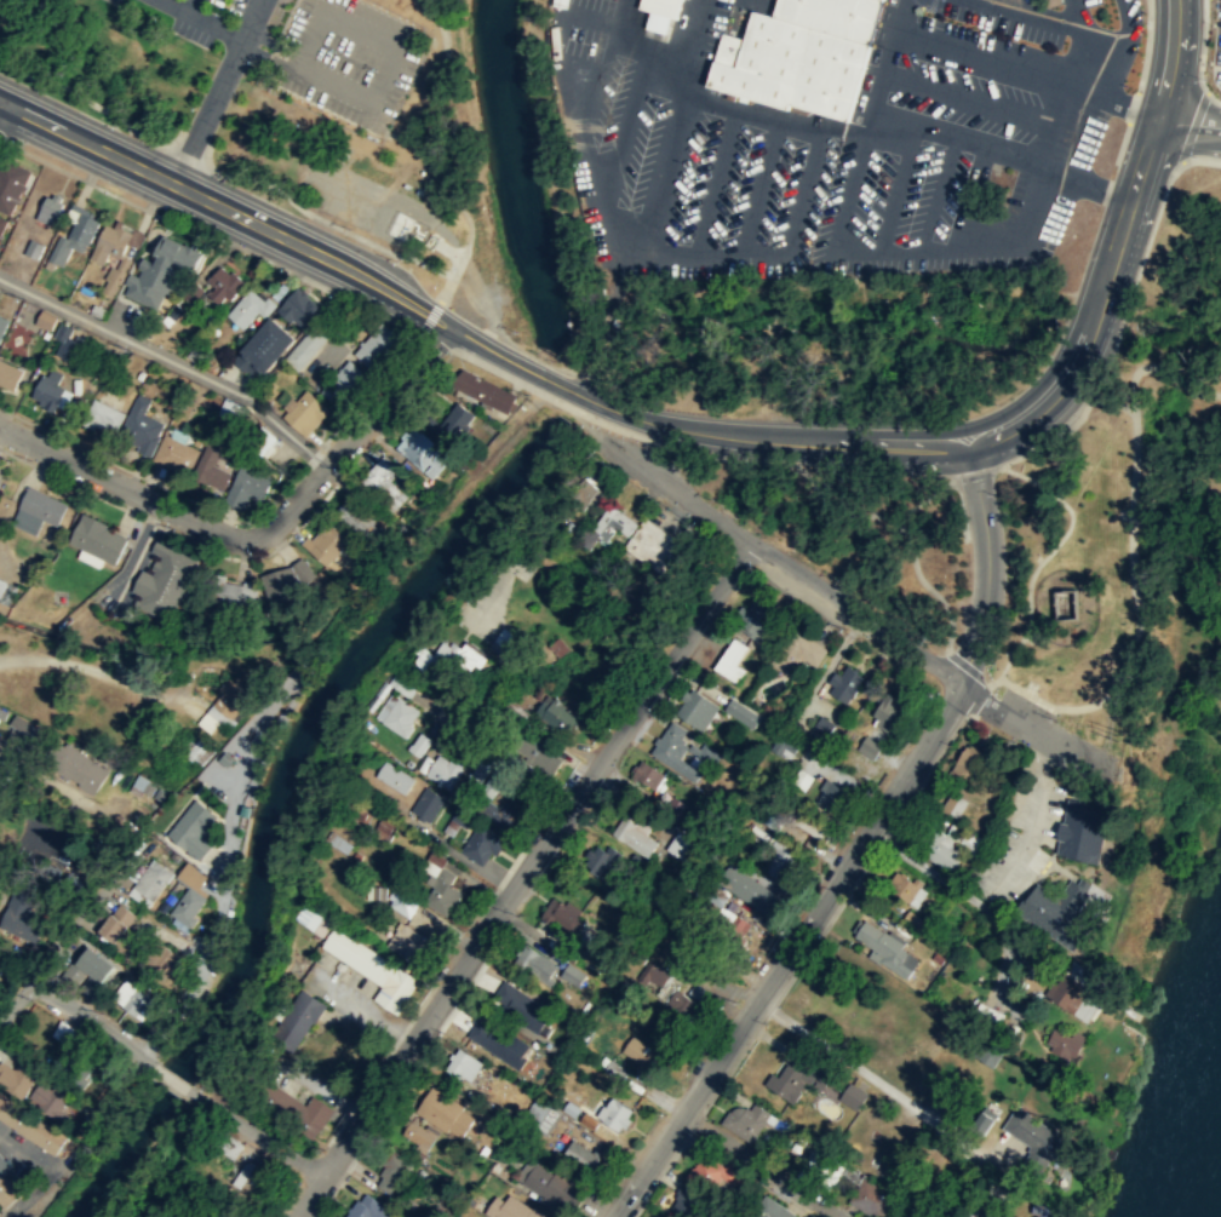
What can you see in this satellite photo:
parking lot: (113, 1)
street lamp: (440, 2)
building: (558, 5)
road: (191, 7)
parking lot: (223, 7)
building: (660, 7)
road: (620, 12)
street lamp: (220, 13)
road: (329, 17)
road: (654, 17)
road: (200, 19)
road: (1055, 21)
road: (1123, 21)
street lamp: (1148, 22)
parking lot: (189, 31)
road: (609, 41)
road: (273, 42)
road: (1145, 45)
road: (1202, 46)
road: (688, 47)
road: (669, 48)
building: (799, 54)
road: (975, 54)
road: (265, 56)
parking lot: (348, 59)
road: (1174, 59)
street lamp: (253, 61)
road: (881, 65)
road: (1108, 68)
street lamp: (453, 70)
street lamp: (1204, 79)
road: (216, 91)
road: (956, 91)
road: (359, 94)
road: (1105, 97)
road: (1213, 97)
road: (1, 103)
road: (92, 103)
street lamp: (193, 107)
road: (1131, 107)
road: (774, 115)
street lamp: (115, 125)
street lamp: (298, 125)
road: (1187, 125)
road: (1192, 125)
street lamp: (447, 133)
road: (581, 136)
road: (194, 138)
road: (437, 142)
road: (1001, 151)
street lamp: (1196, 156)
road: (617, 160)
street lamp: (231, 180)
road: (715, 182)
road: (1094, 183)
building: (11, 185)
road: (759, 185)
road: (895, 189)
road: (938, 193)
road: (292, 201)
street lamp: (466, 201)
building: (48, 208)
road: (225, 208)
street lamp: (166, 213)
building: (2, 224)
road: (210, 236)
building: (73, 237)
building: (109, 242)
road: (877, 248)
road: (700, 254)
street lamp: (395, 260)
road: (423, 262)
road: (131, 263)
building: (161, 270)
street lamp: (282, 270)
building: (224, 283)
road: (445, 288)
building: (250, 306)
building: (299, 306)
road: (1123, 315)
building: (45, 317)
road: (429, 317)
building: (2, 322)
building: (69, 343)
building: (377, 345)
building: (264, 346)
building: (306, 349)
street lamp: (448, 351)
road: (170, 360)
road: (1157, 368)
building: (8, 374)
building: (343, 383)
road: (371, 386)
building: (47, 389)
building: (482, 391)
road: (1116, 404)
building: (305, 412)
building: (102, 414)
building: (449, 423)
building: (141, 426)
road: (617, 427)
building: (264, 441)
road: (895, 448)
building: (423, 452)
building: (174, 454)
street lamp: (596, 455)
road: (1096, 460)
building: (214, 463)
road: (974, 471)
building: (383, 483)
building: (247, 486)
building: (42, 505)
road: (961, 507)
road: (836, 511)
building: (360, 518)
building: (27, 521)
building: (610, 526)
park: (1133, 532)
park: (852, 533)
road: (257, 535)
building: (97, 539)
building: (326, 544)
building: (653, 546)
road: (1047, 552)
street lamp: (254, 555)
road: (776, 557)
road: (911, 557)
road: (987, 564)
street lamp: (749, 566)
building: (165, 580)
building: (286, 580)
building: (6, 591)
building: (230, 591)
building: (1067, 603)
road: (1137, 616)
building: (755, 619)
building: (501, 642)
building: (796, 651)
building: (463, 655)
building: (730, 661)
road: (76, 665)
building: (843, 682)
street lamp: (928, 693)
building: (230, 695)
building: (694, 710)
building: (887, 712)
building: (557, 713)
building: (741, 713)
building: (397, 714)
road: (1033, 728)
building: (819, 731)
building: (18, 733)
power tower: (1116, 734)
road: (445, 736)
street lamp: (1014, 741)
building: (419, 744)
building: (784, 746)
building: (870, 746)
building: (197, 750)
building: (537, 751)
building: (682, 751)
building: (0, 758)
road: (515, 759)
building: (968, 763)
building: (76, 768)
building: (480, 768)
building: (445, 771)
building: (394, 776)
building: (648, 777)
building: (801, 777)
building: (492, 780)
building: (830, 796)
building: (425, 803)
building: (953, 804)
building: (672, 806)
building: (504, 813)
building: (455, 822)
building: (814, 826)
building: (193, 828)
building: (1080, 831)
building: (634, 837)
building: (481, 844)
building: (946, 845)
building: (678, 846)
building: (598, 860)
building: (778, 862)
road: (520, 876)
building: (150, 882)
building: (438, 884)
building: (906, 888)
building: (745, 889)
building: (401, 903)
building: (187, 906)
building: (1055, 907)
building: (15, 914)
building: (562, 915)
building: (306, 917)
building: (915, 922)
road: (211, 942)
building: (141, 945)
building: (408, 945)
building: (885, 948)
road: (787, 952)
building: (535, 964)
building: (372, 969)
building: (87, 971)
building: (653, 974)
building: (569, 977)
building: (499, 991)
building: (1068, 993)
building: (132, 1000)
building: (682, 1005)
building: (526, 1008)
road: (67, 1009)
building: (296, 1020)
building: (499, 1041)
building: (1064, 1043)
building: (640, 1051)
road: (145, 1061)
building: (462, 1064)
building: (74, 1068)
building: (17, 1078)
road: (168, 1078)
building: (797, 1078)
street lamp: (212, 1086)
building: (852, 1096)
building: (47, 1100)
road: (96, 1109)
building: (298, 1109)
building: (446, 1112)
building: (614, 1113)
building: (541, 1114)
building: (746, 1120)
building: (30, 1125)
road: (253, 1135)
building: (1032, 1135)
building: (417, 1136)
road: (29, 1147)
building: (580, 1153)
road: (761, 1165)
building: (711, 1172)
building: (396, 1176)
building: (251, 1182)
building: (544, 1182)
building: (6, 1183)
building: (852, 1184)
building: (687, 1202)
building: (368, 1207)
building: (511, 1207)
building: (769, 1209)
building: (1042, 1210)
building: (217, 1213)
building: (967, 1216)

